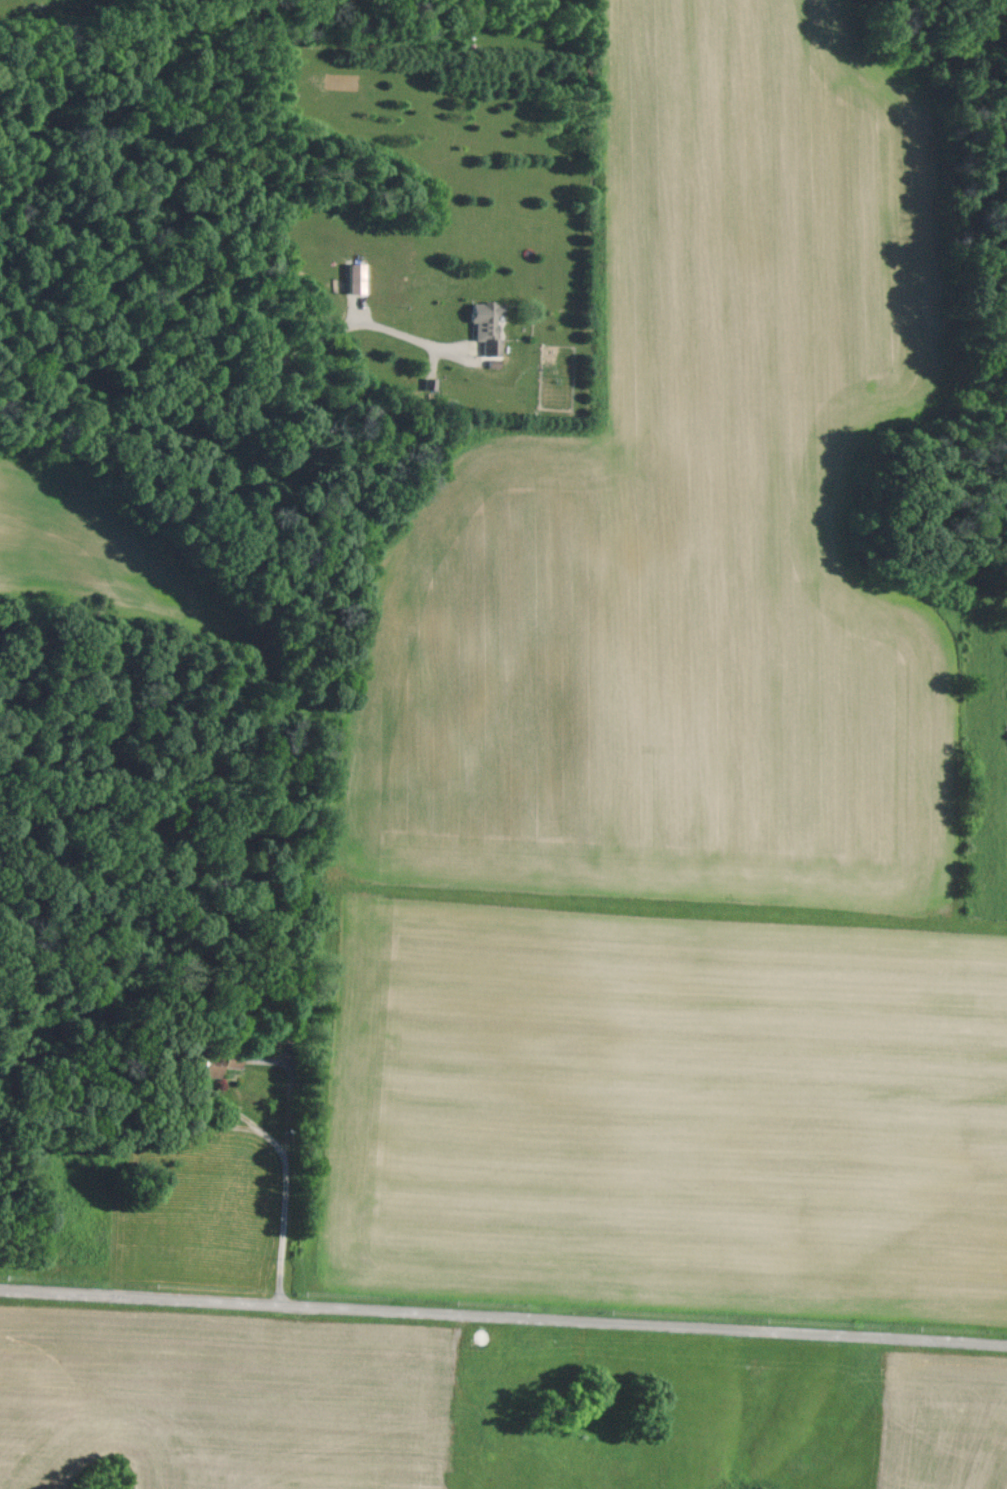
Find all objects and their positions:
building: (353, 277)
building: (483, 325)
road: (285, 1180)
road: (503, 1313)

